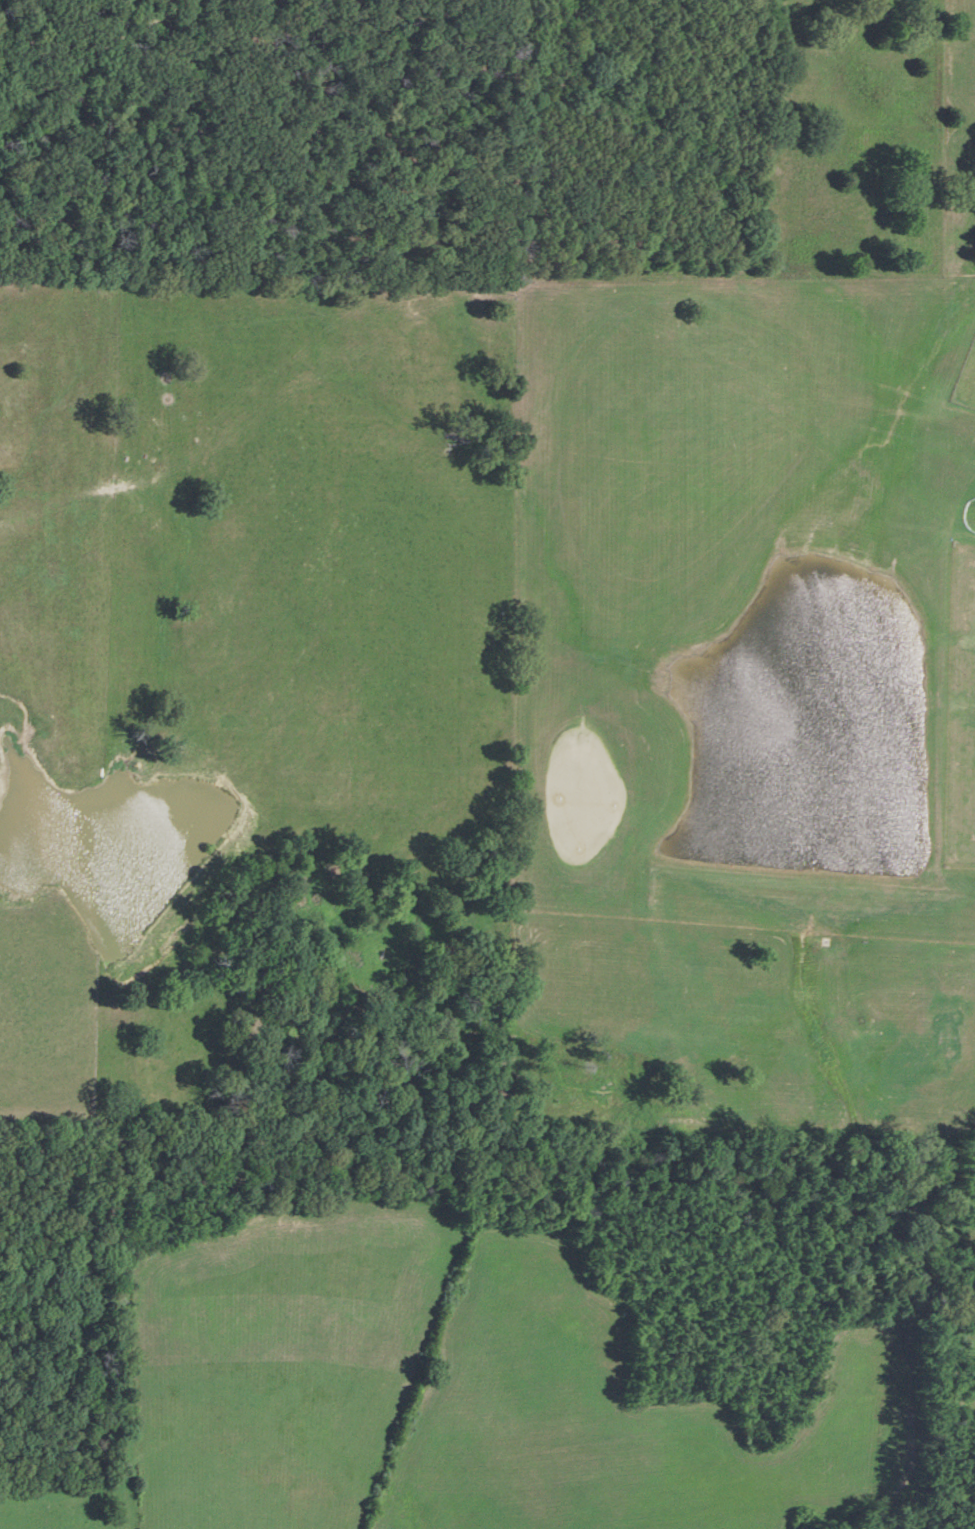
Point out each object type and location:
road: (94, 57)

